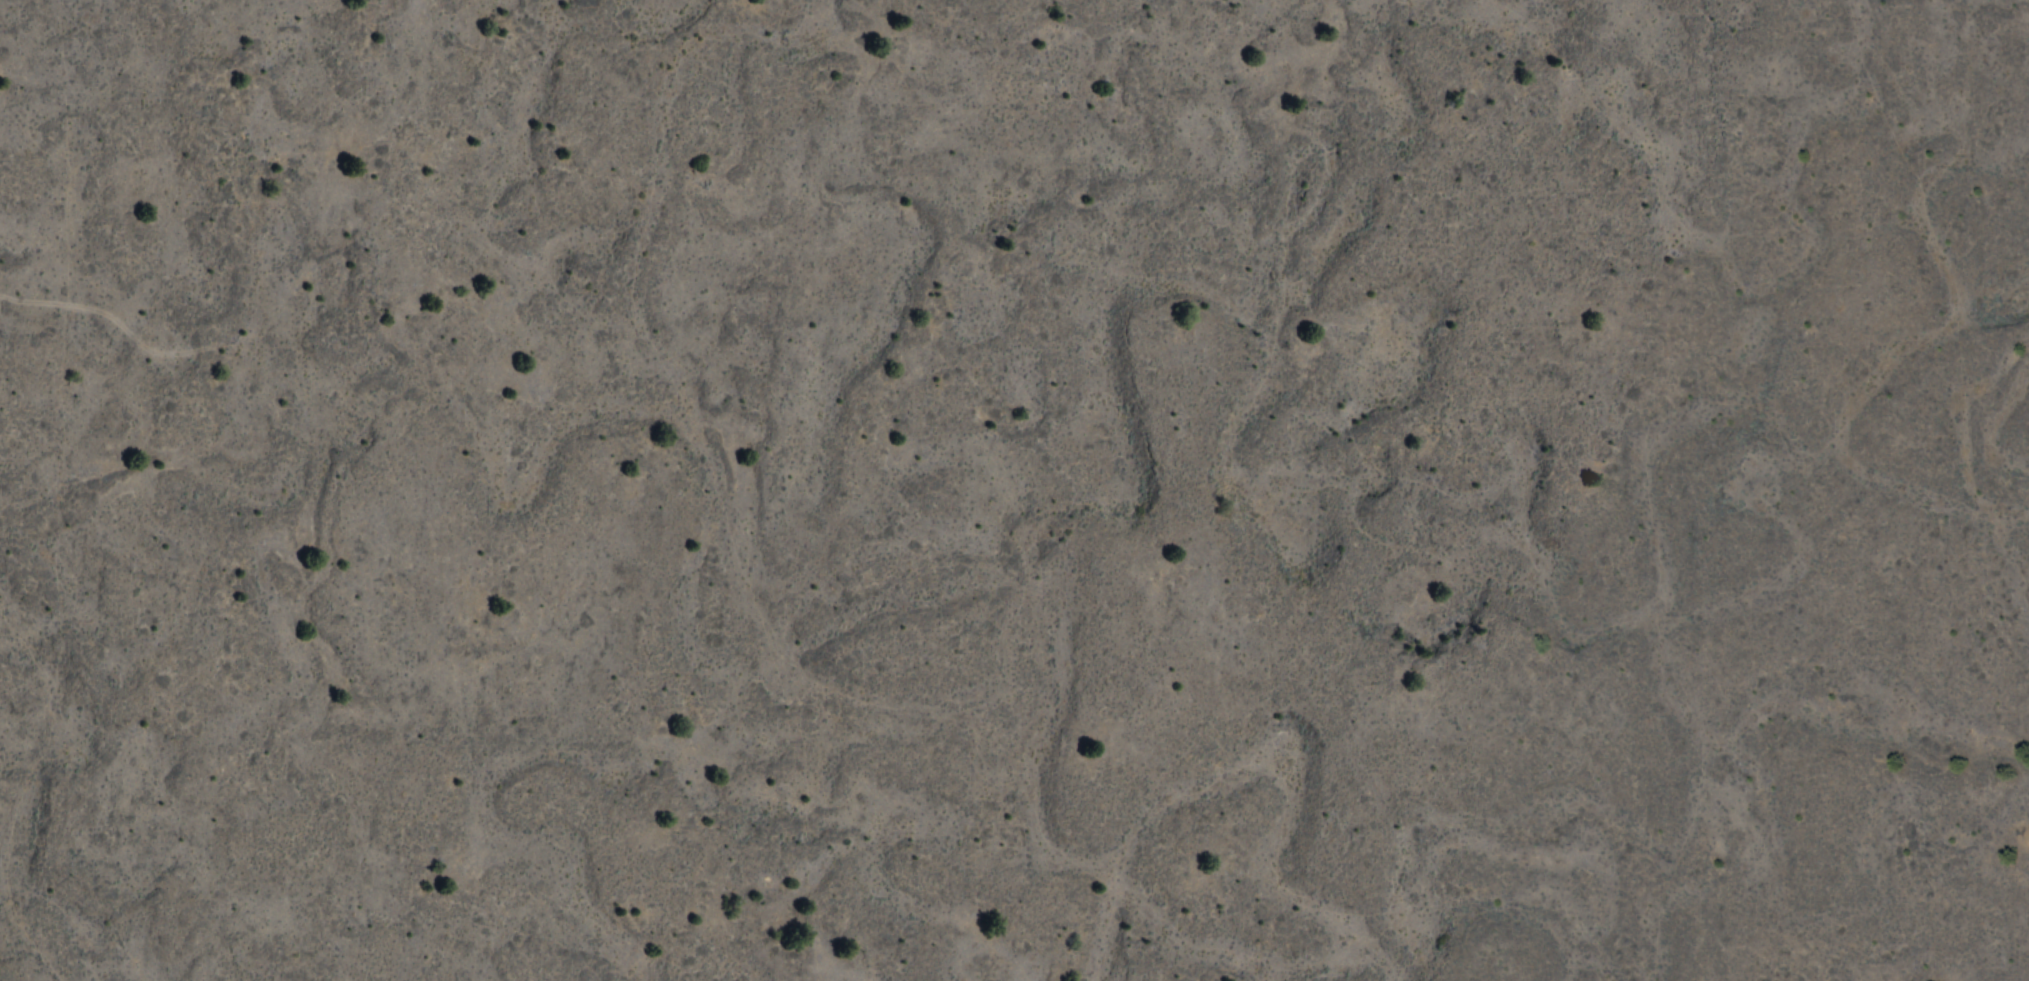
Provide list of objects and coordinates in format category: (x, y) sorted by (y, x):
road: (30, 789)

